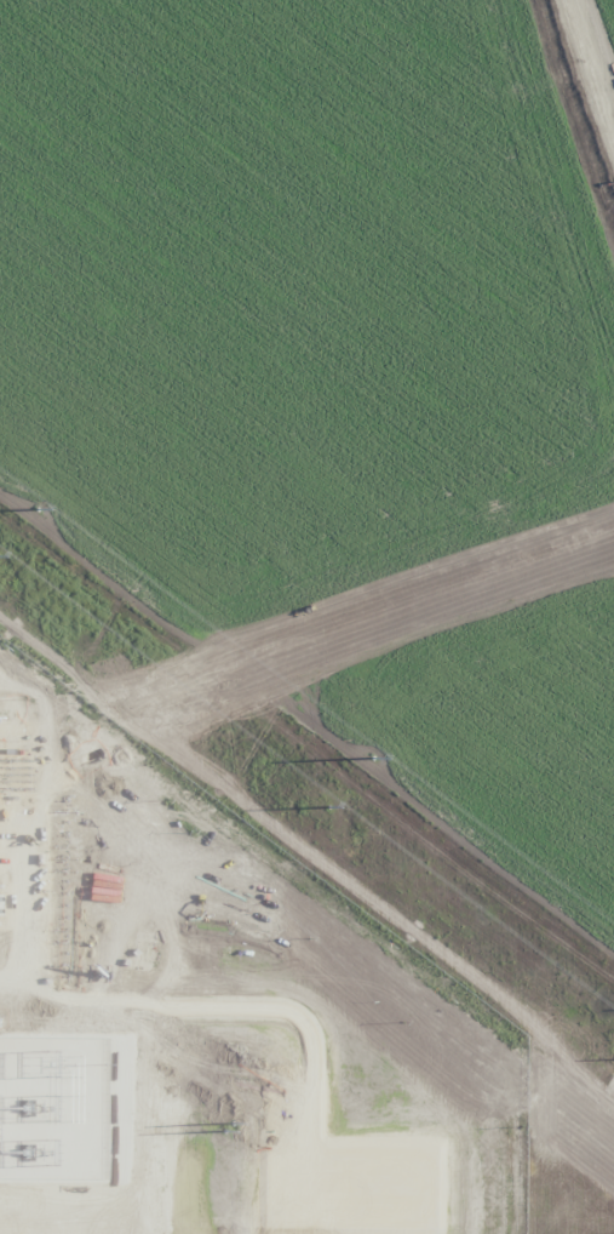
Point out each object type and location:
power tower: (31, 504)
crop: (306, 617)
power tower: (367, 753)
power tower: (328, 806)

